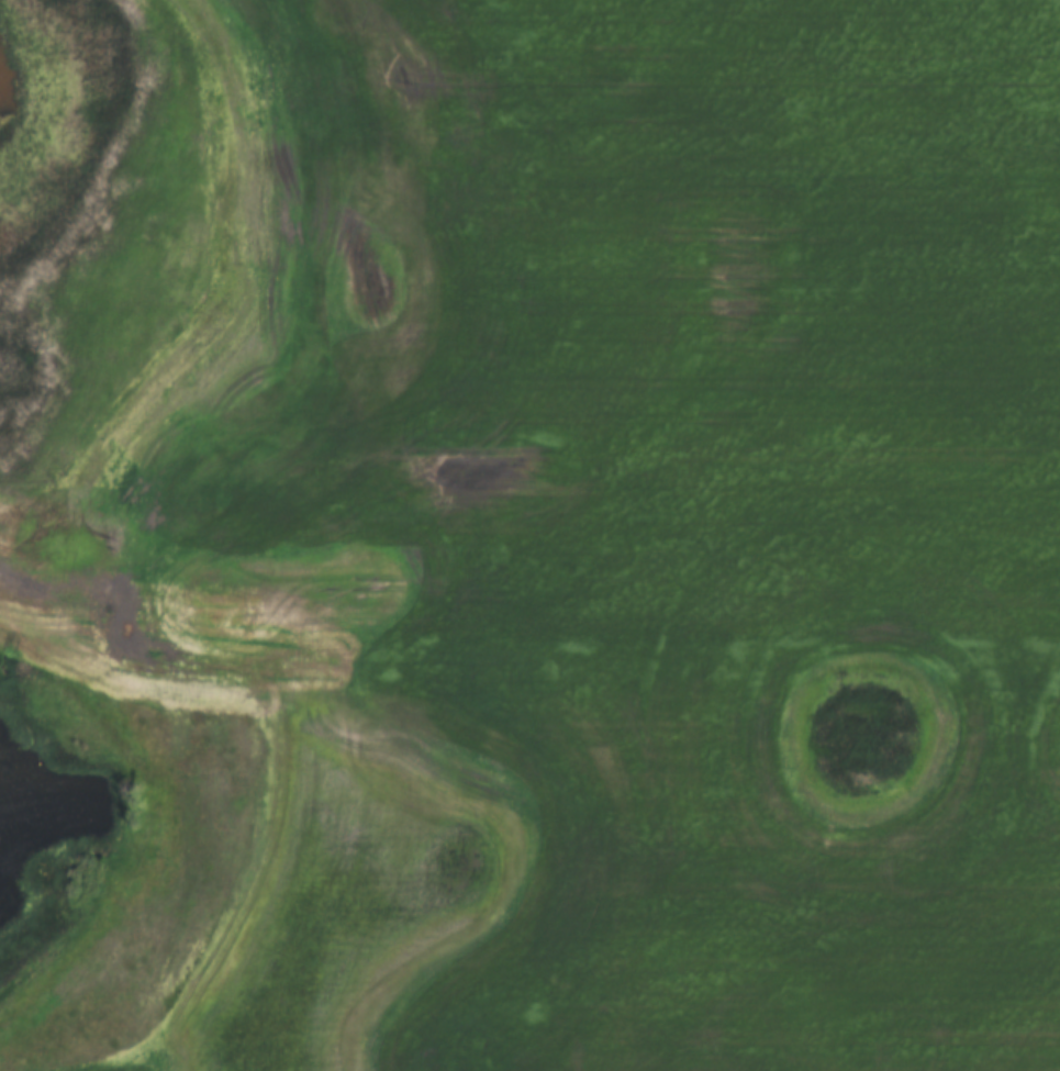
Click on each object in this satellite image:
road: (524, 657)

